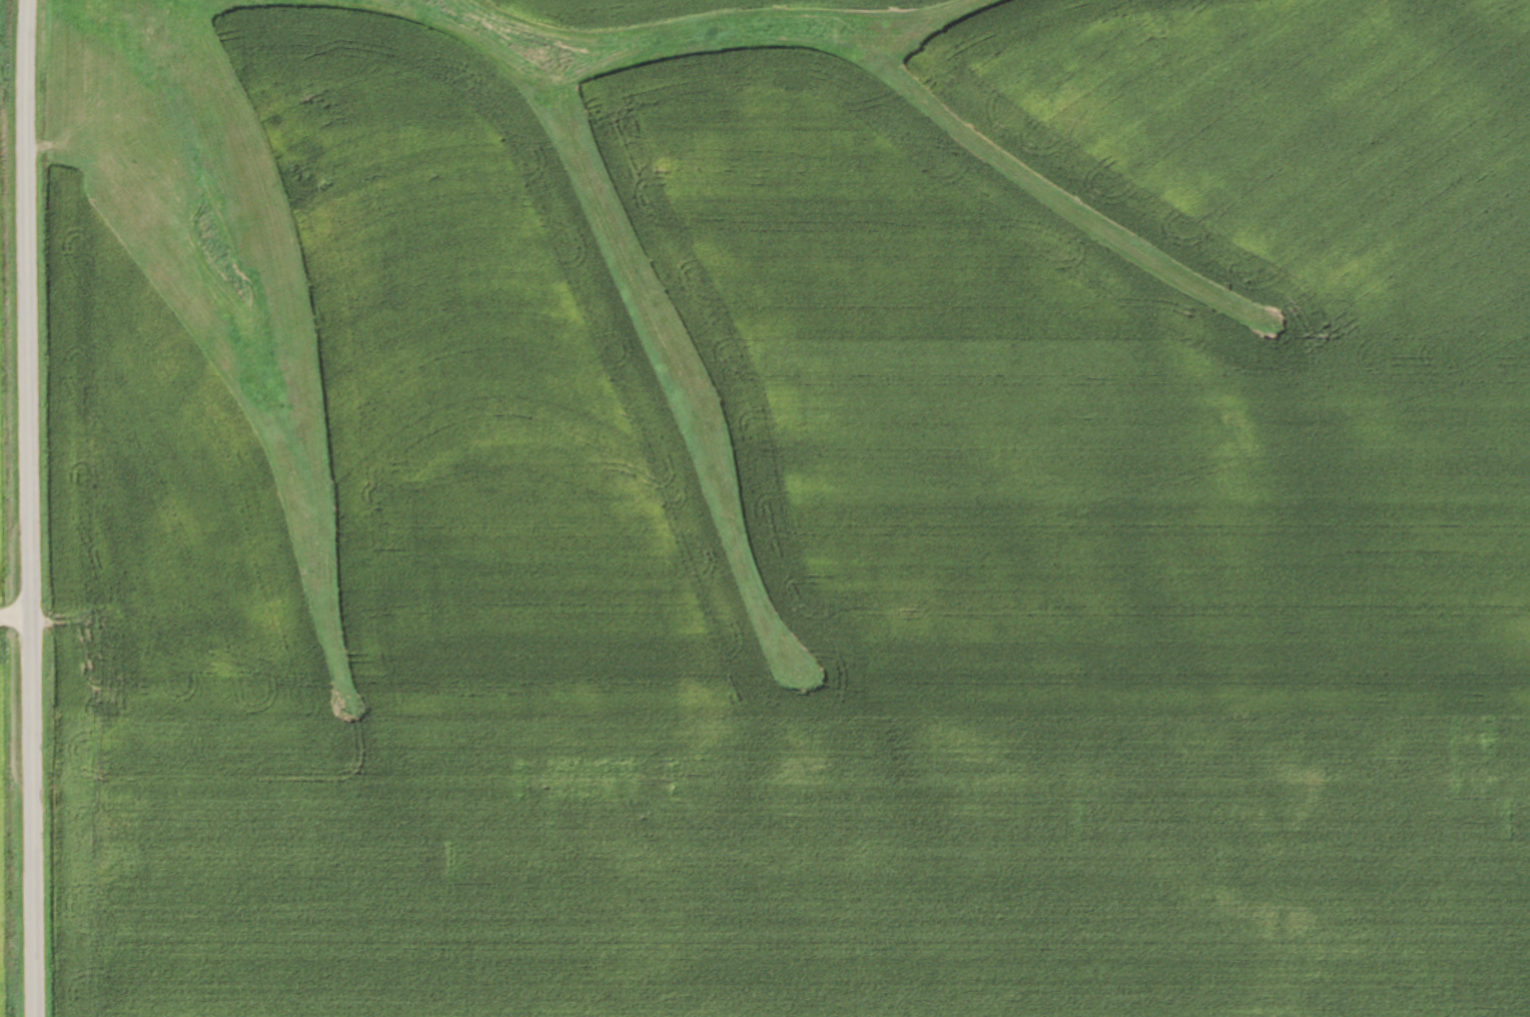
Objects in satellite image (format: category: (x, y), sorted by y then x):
road: (30, 508)
road: (15, 620)

